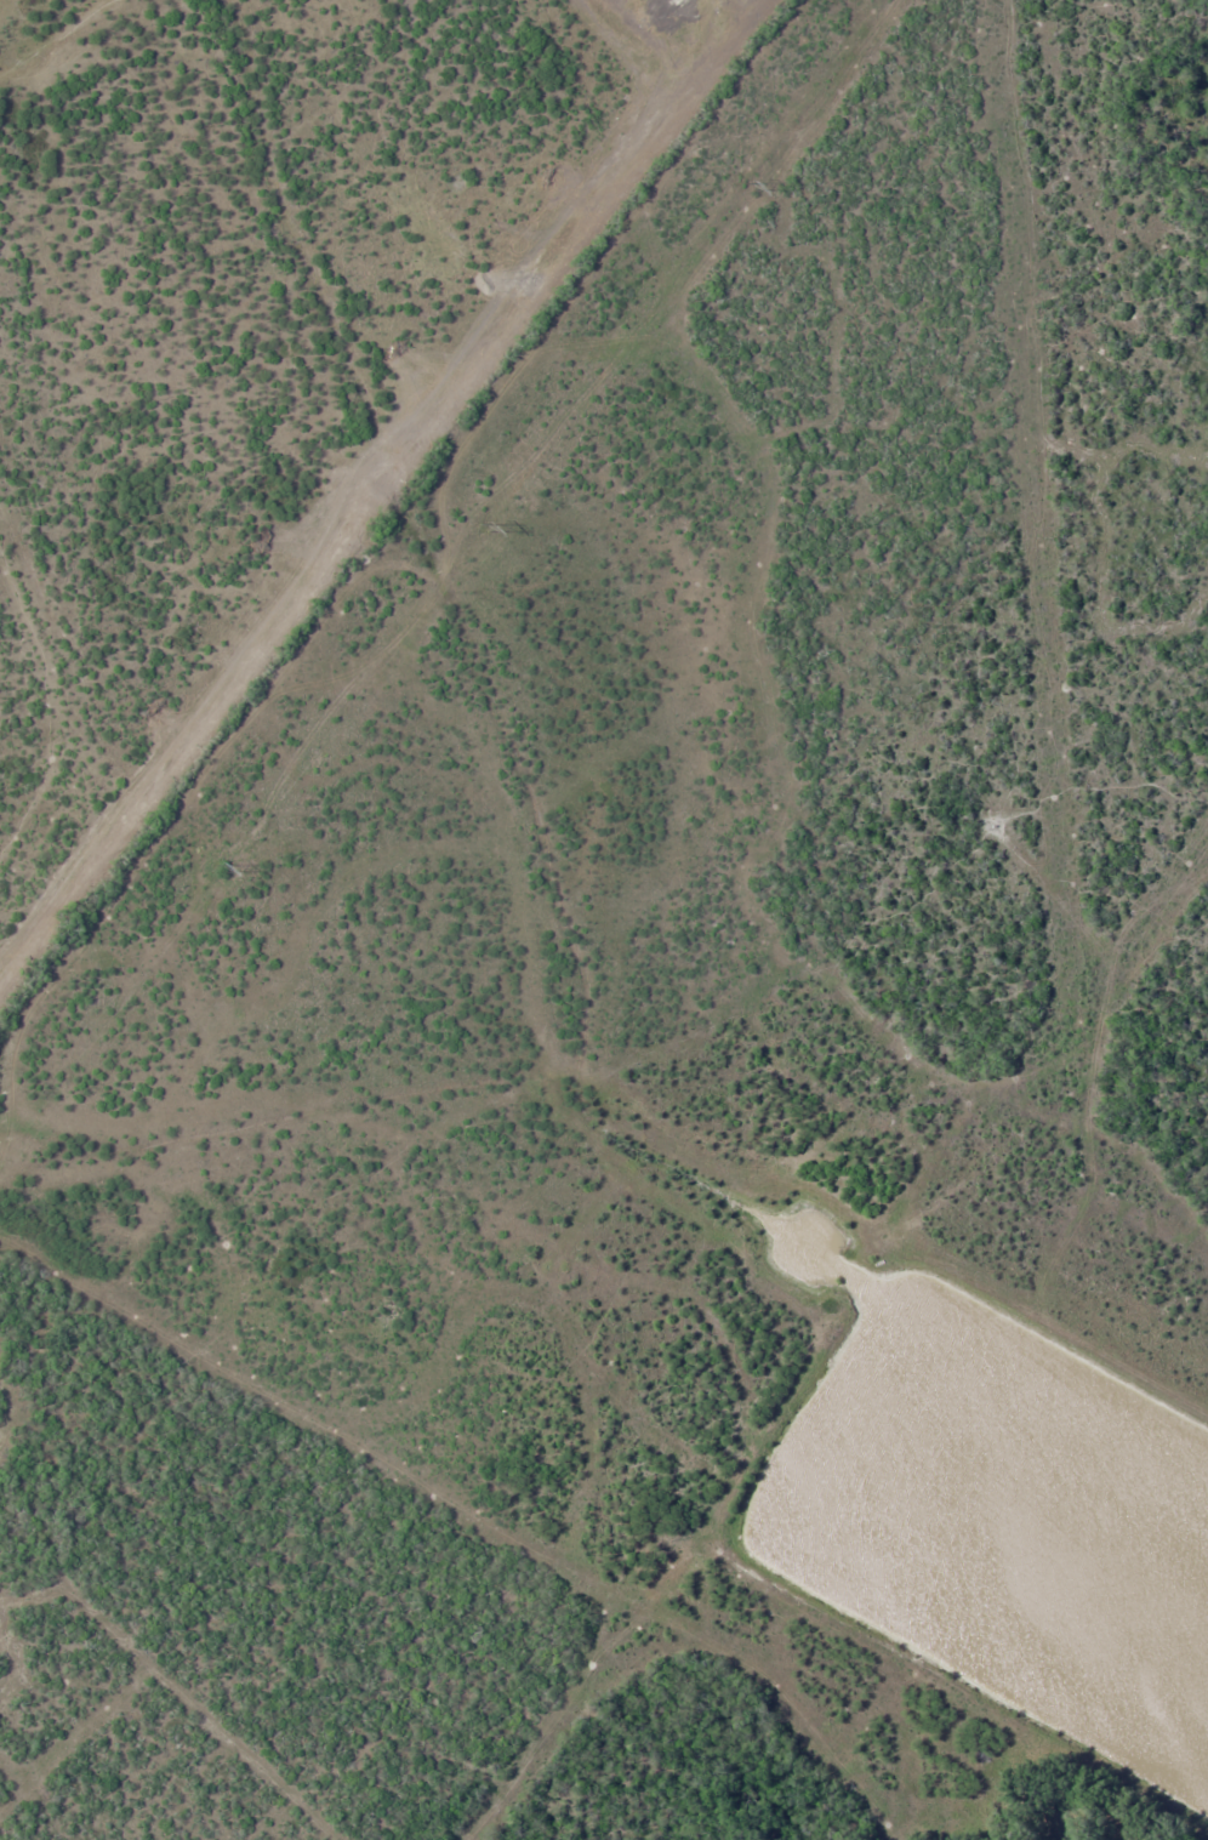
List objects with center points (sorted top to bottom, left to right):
building: (686, 8)
power tower: (748, 186)
power tower: (484, 526)
power tower: (221, 867)

